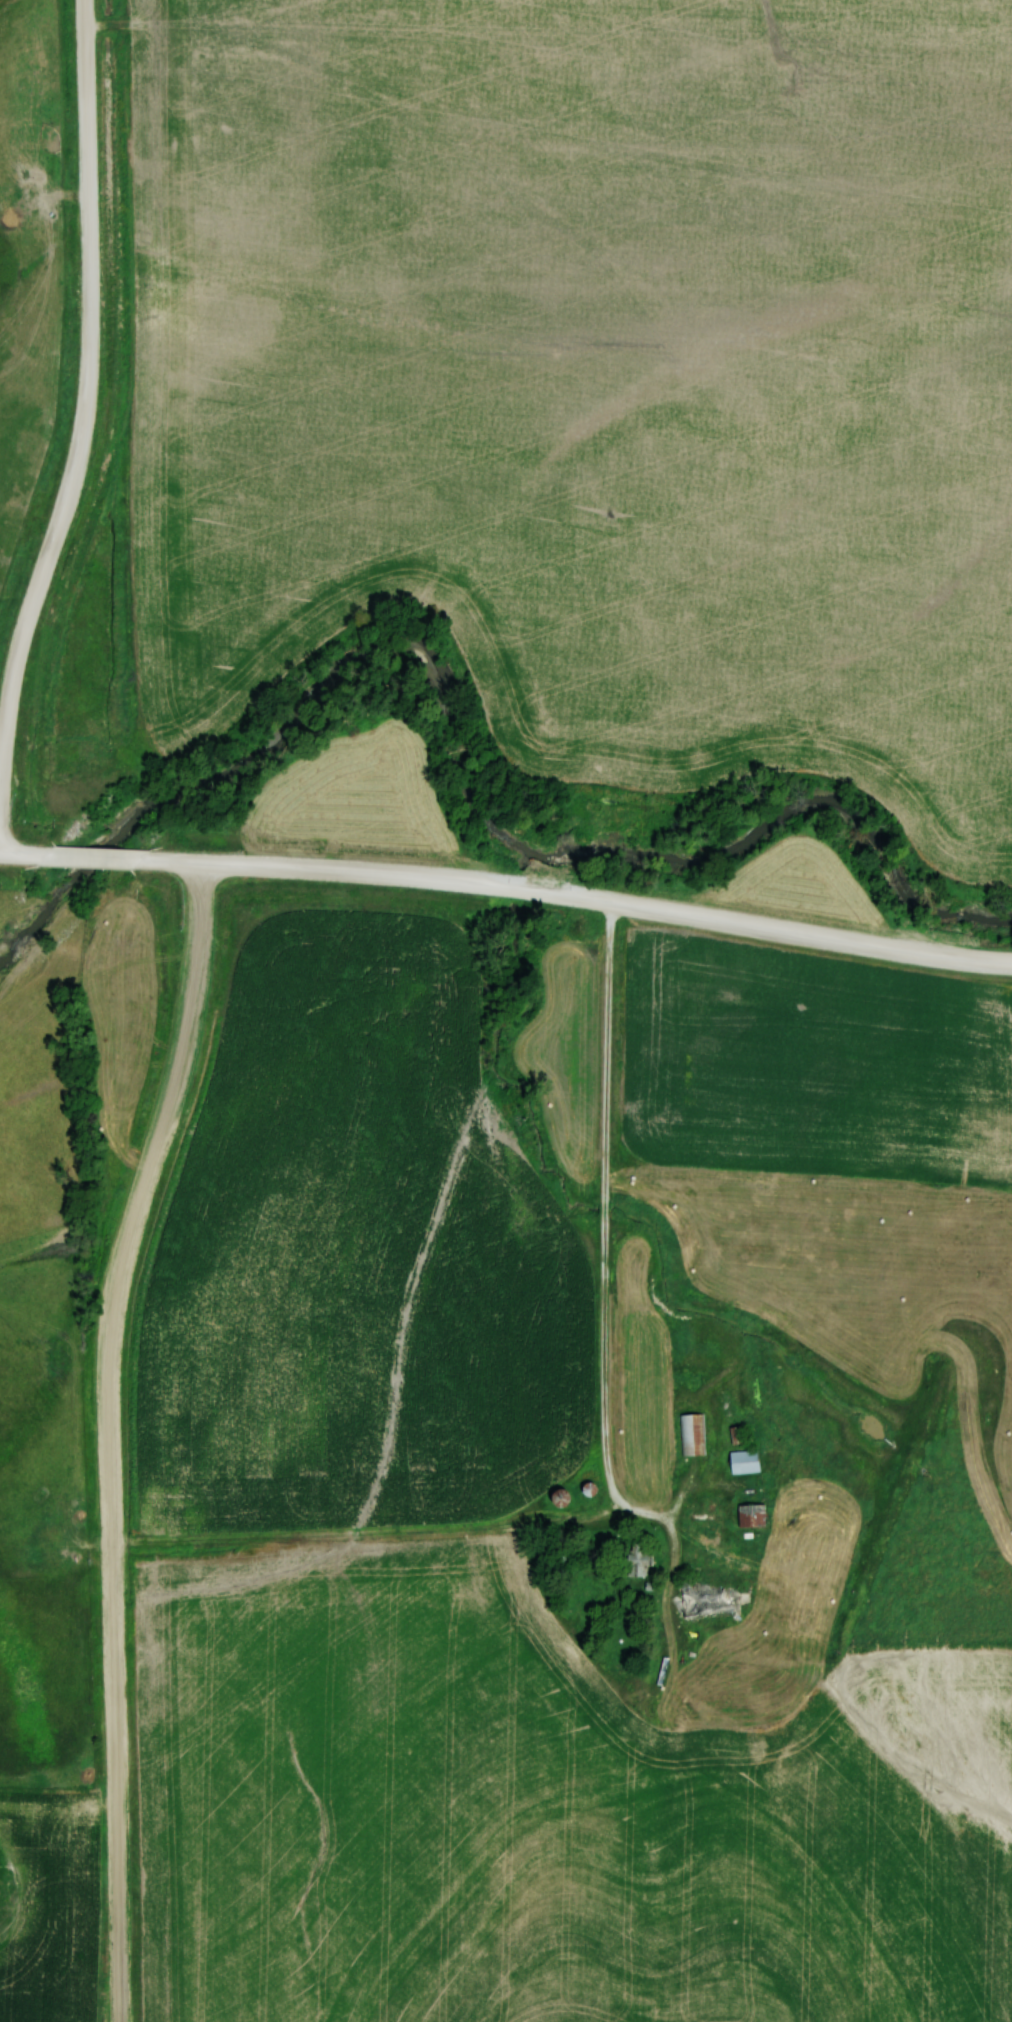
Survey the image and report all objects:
road: (86, 392)
river: (455, 764)
road: (23, 853)
road: (96, 857)
road: (580, 896)
building: (692, 1433)
road: (110, 1436)
building: (742, 1460)
building: (749, 1514)
building: (634, 1558)

